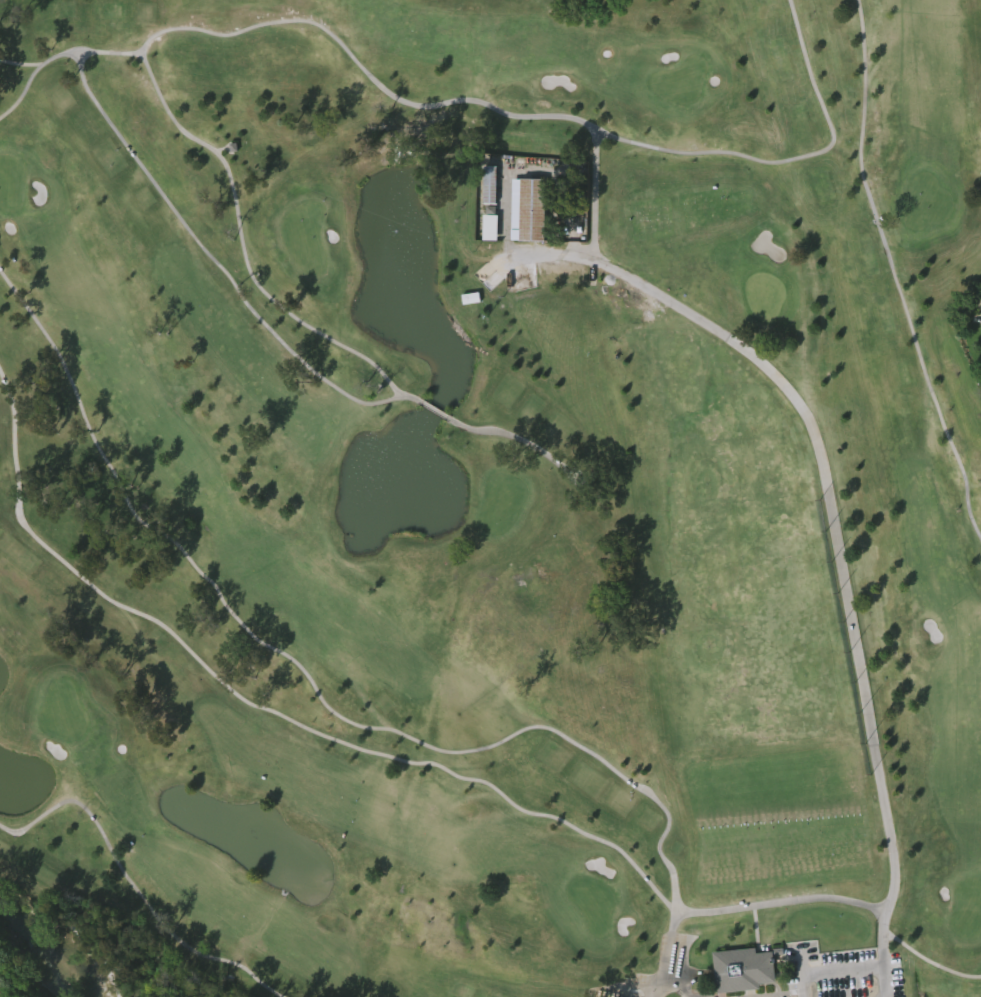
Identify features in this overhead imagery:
building: (489, 185)
building: (527, 210)
building: (490, 227)
building: (470, 298)
park: (491, 496)
road: (841, 569)
building: (742, 968)
road: (883, 983)

